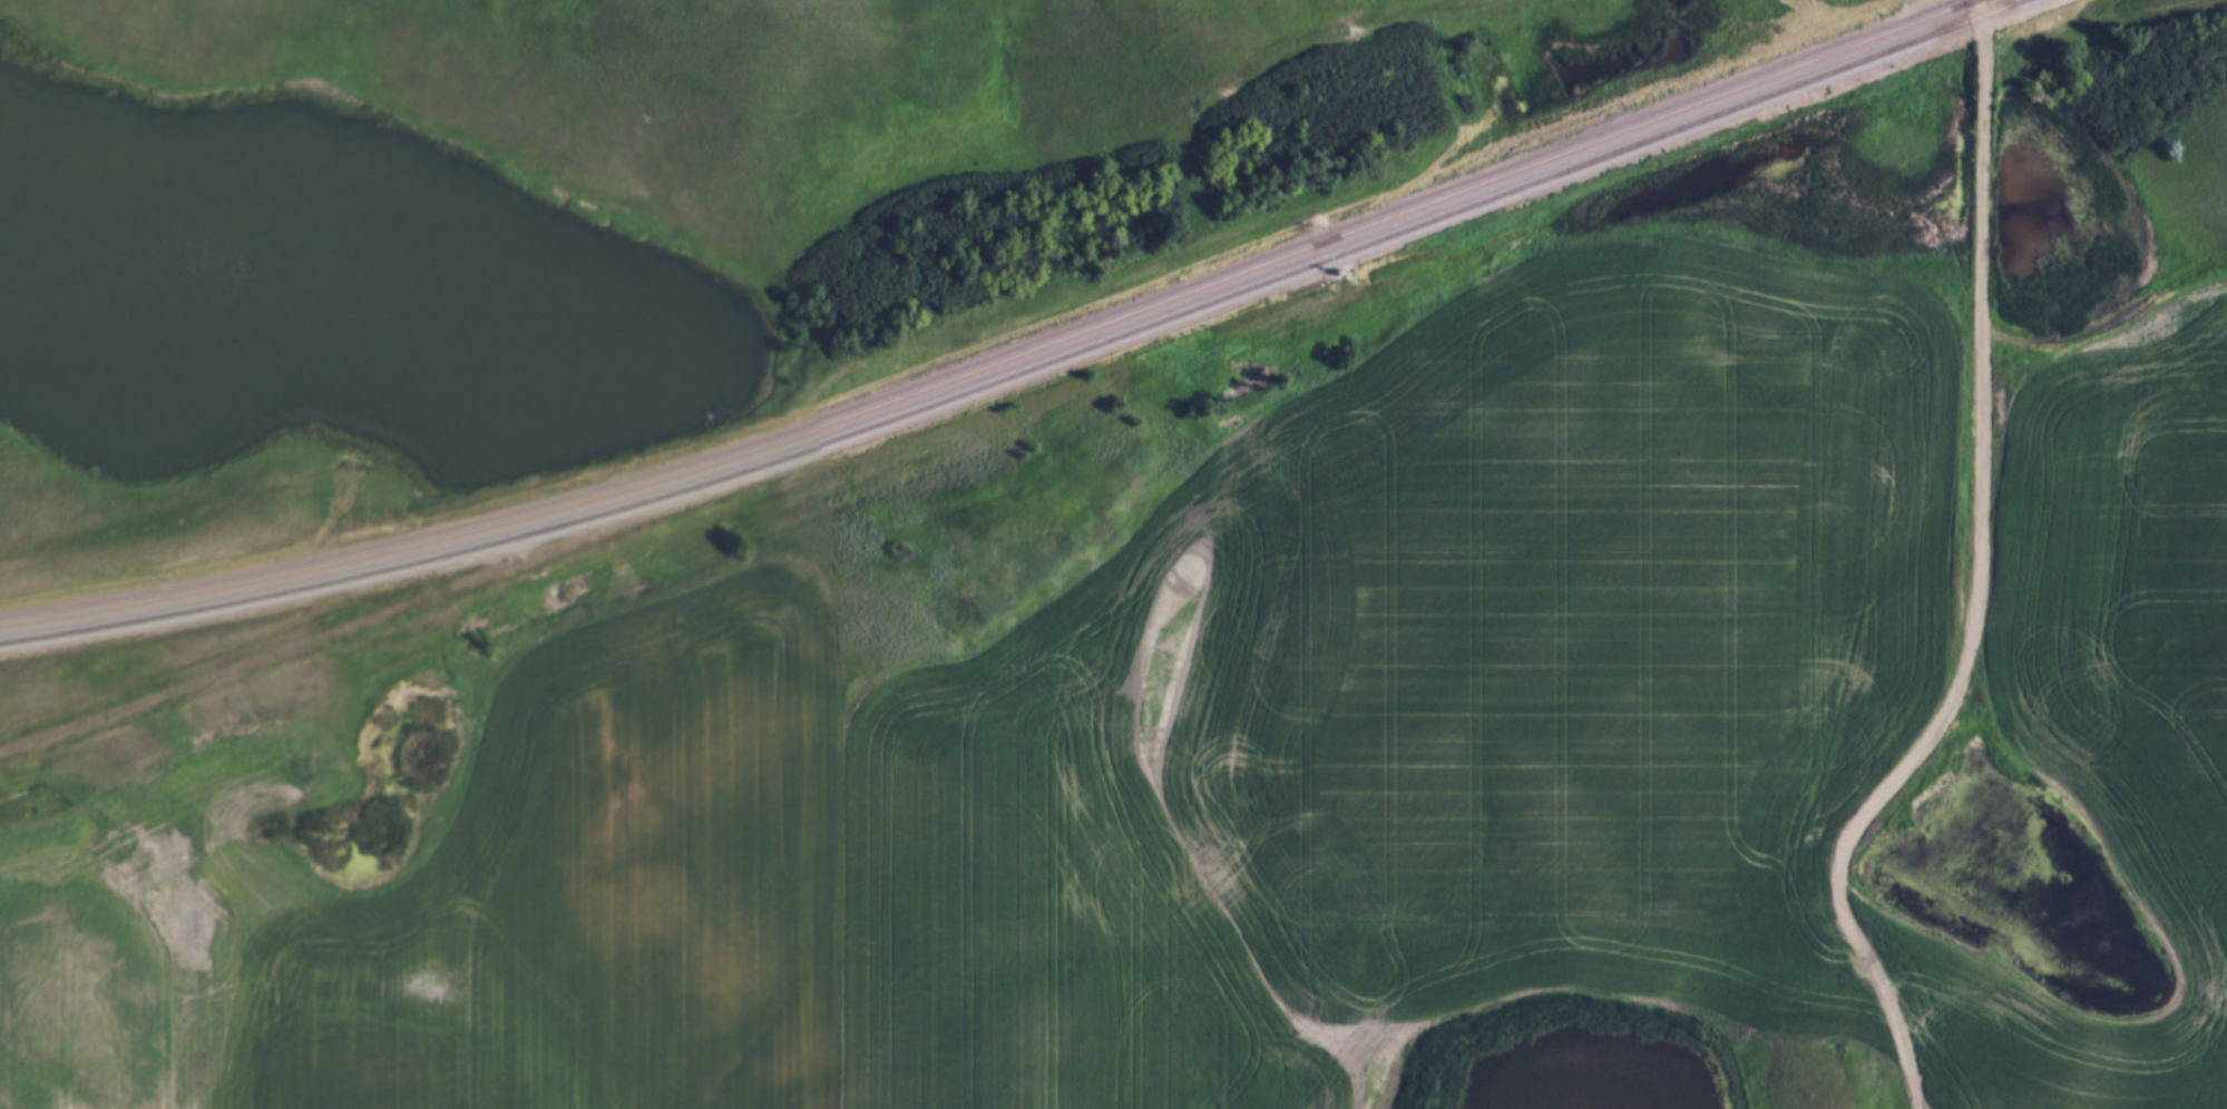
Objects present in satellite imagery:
road: (2106, 330)
railway: (1004, 362)
railway: (1026, 370)
road: (1972, 579)

